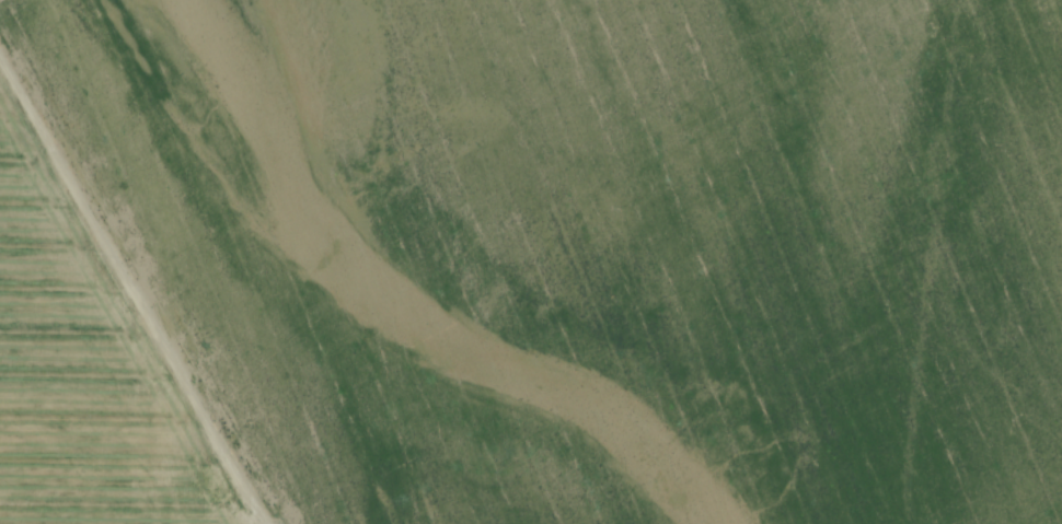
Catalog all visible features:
crop: (595, 247)

